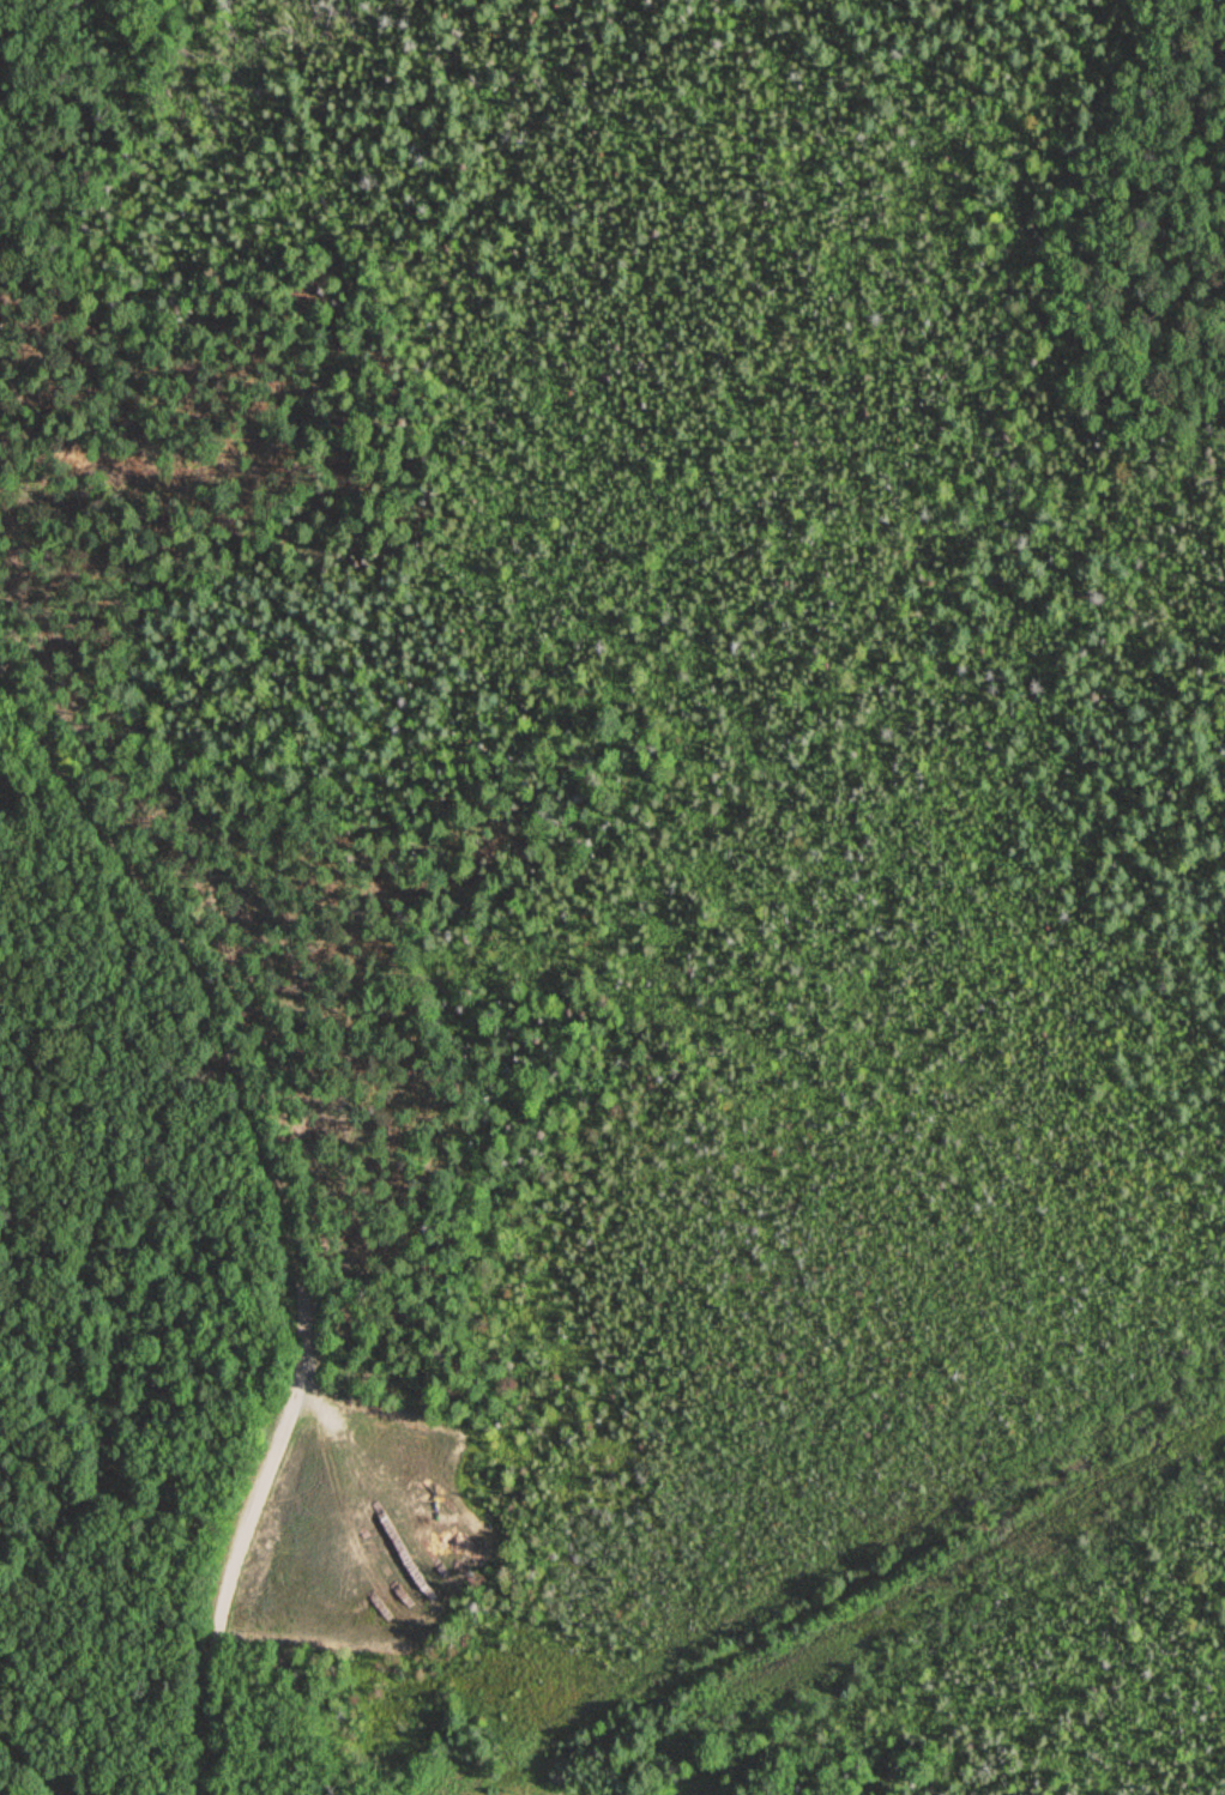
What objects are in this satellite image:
road: (283, 1197)
road: (357, 1448)

